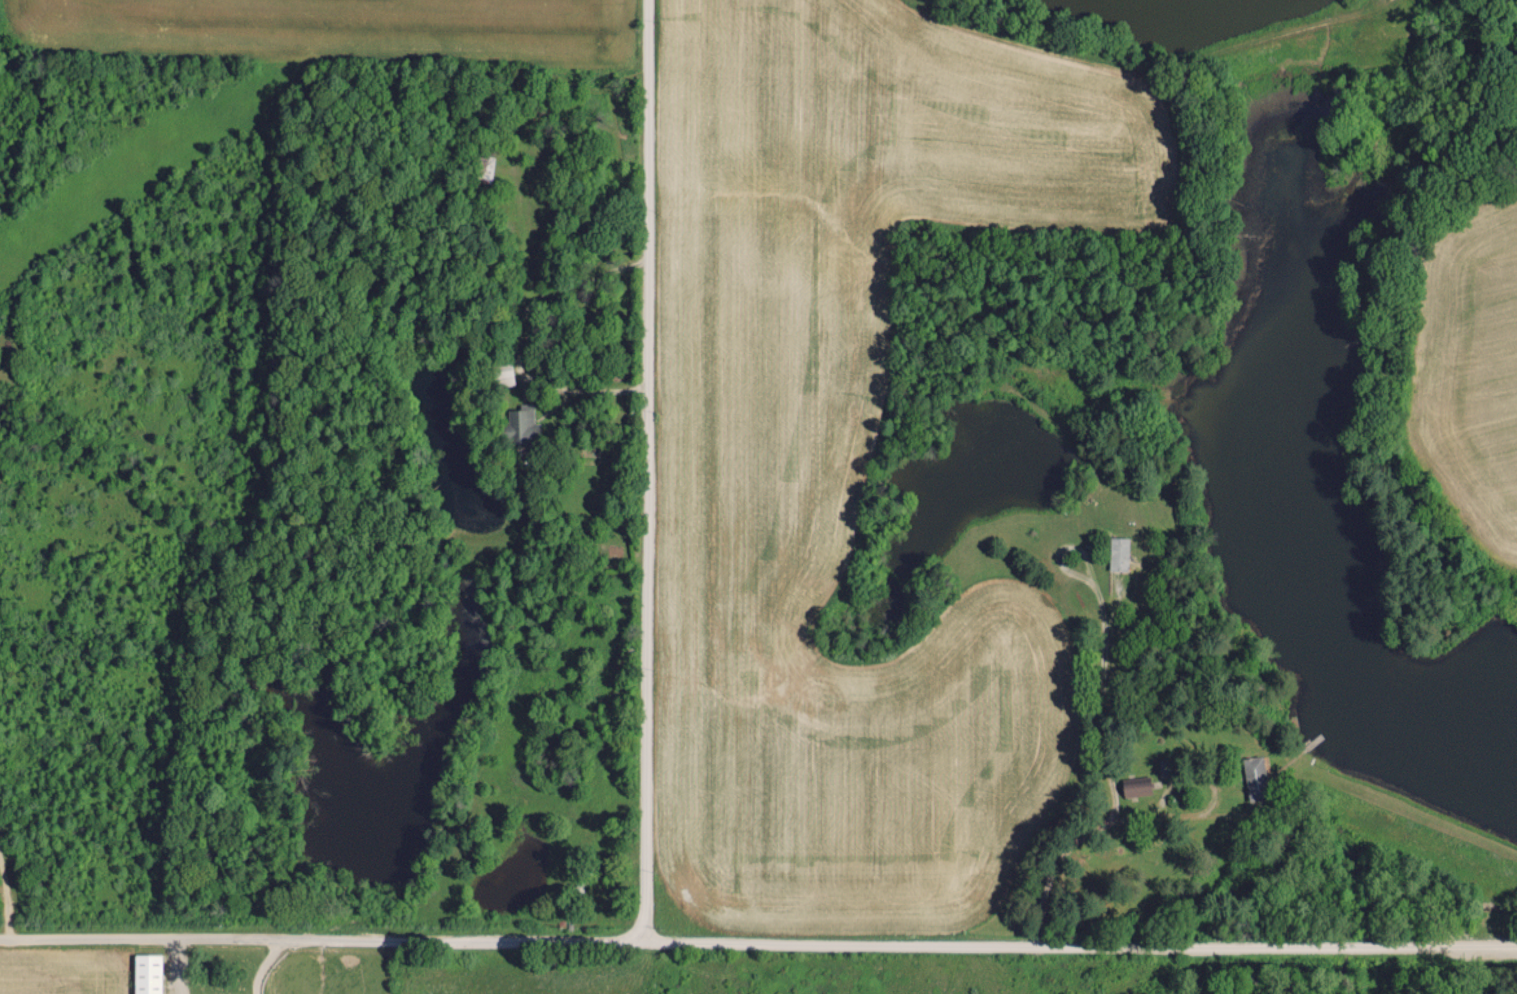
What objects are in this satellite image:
road: (577, 270)
road: (513, 359)
building: (507, 375)
building: (520, 426)
road: (653, 469)
building: (1117, 555)
road: (1103, 644)
building: (1254, 778)
building: (1135, 786)
dam: (1416, 808)
road: (1096, 831)
road: (758, 941)
building: (146, 973)

